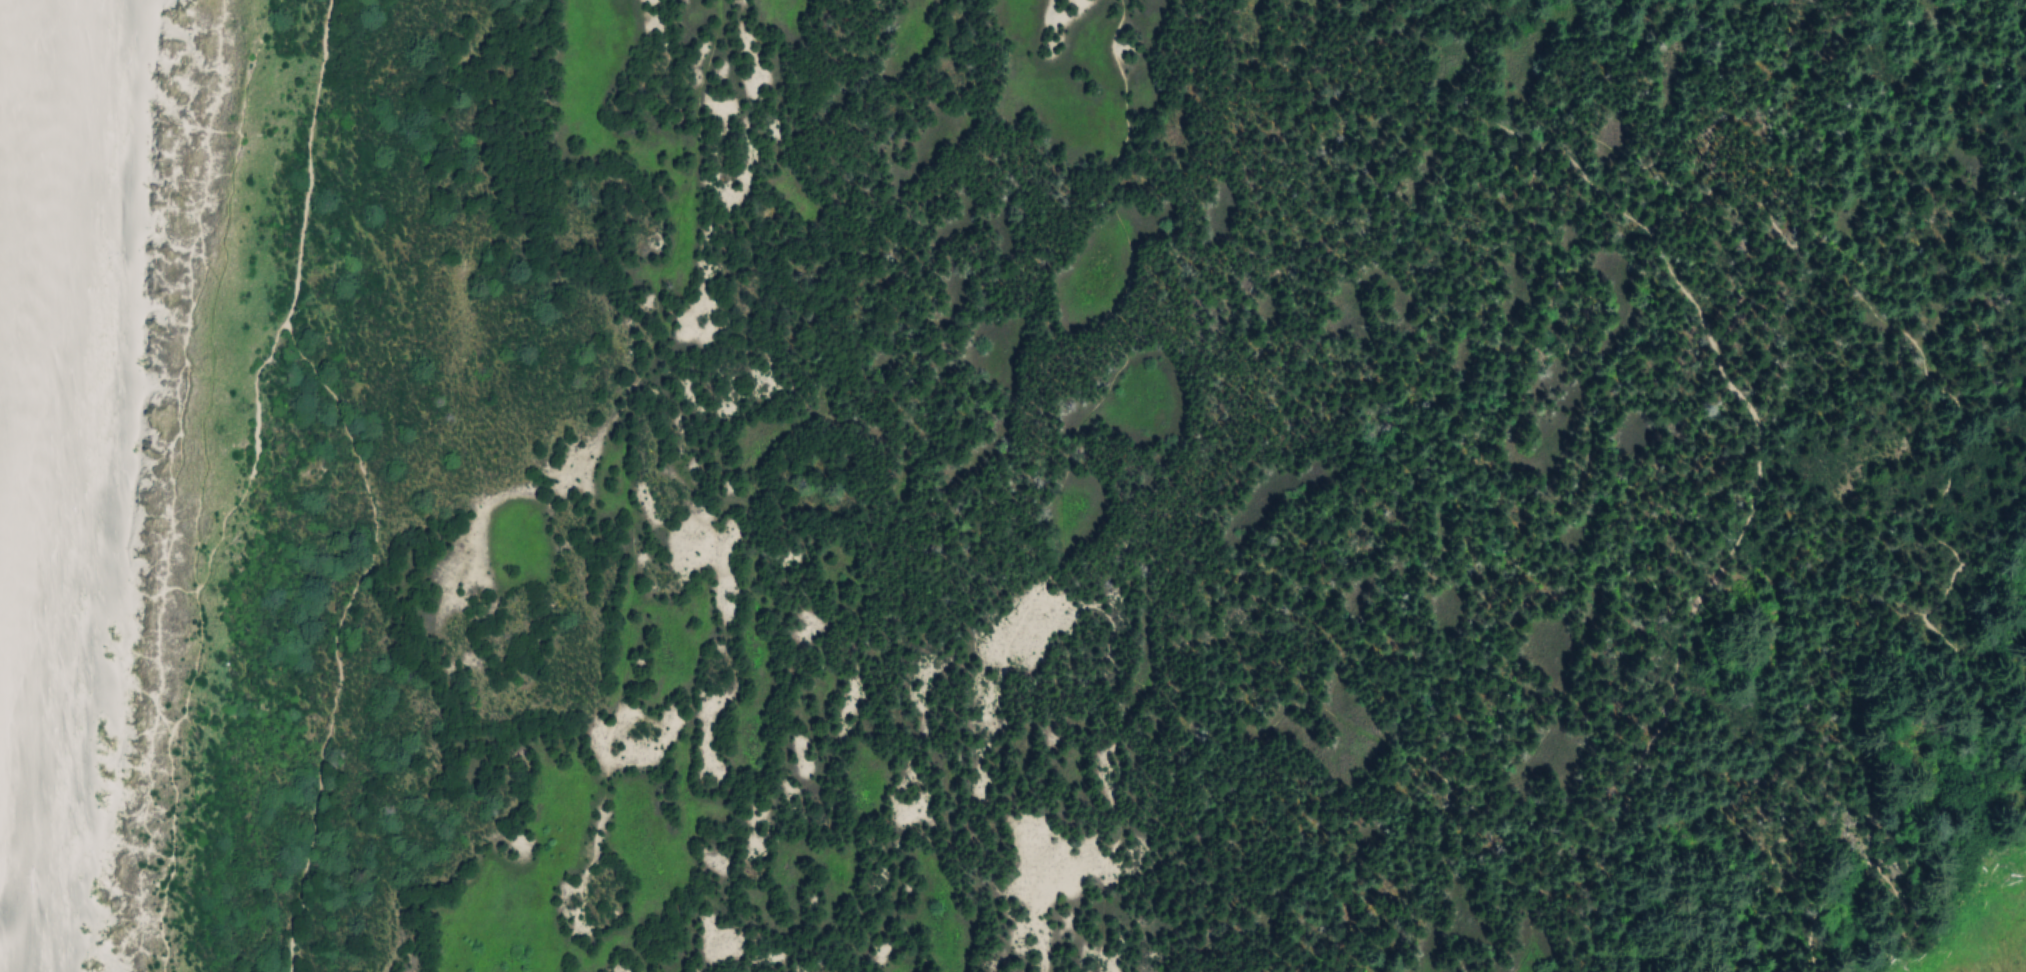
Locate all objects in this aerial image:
road: (368, 481)

